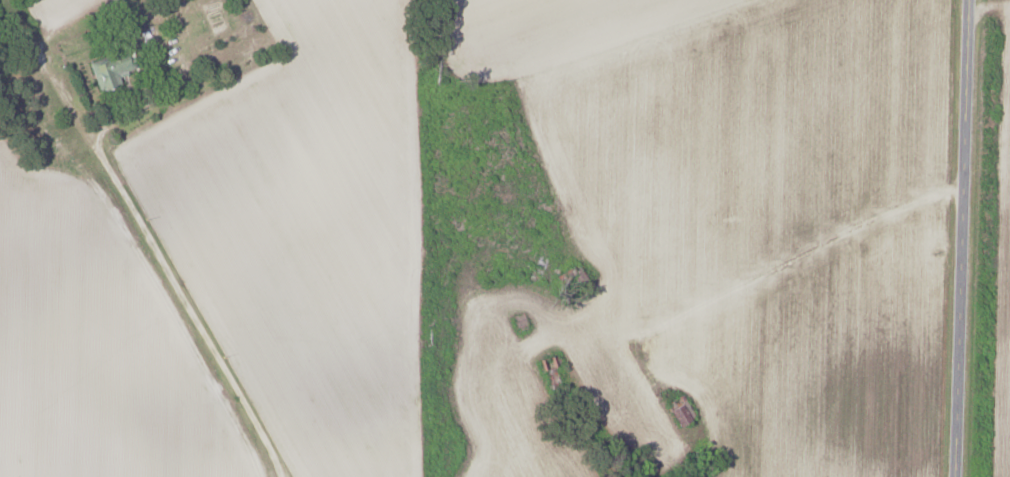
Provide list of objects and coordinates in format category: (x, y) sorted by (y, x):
building: (108, 70)
road: (142, 107)
road: (148, 236)
road: (961, 238)

